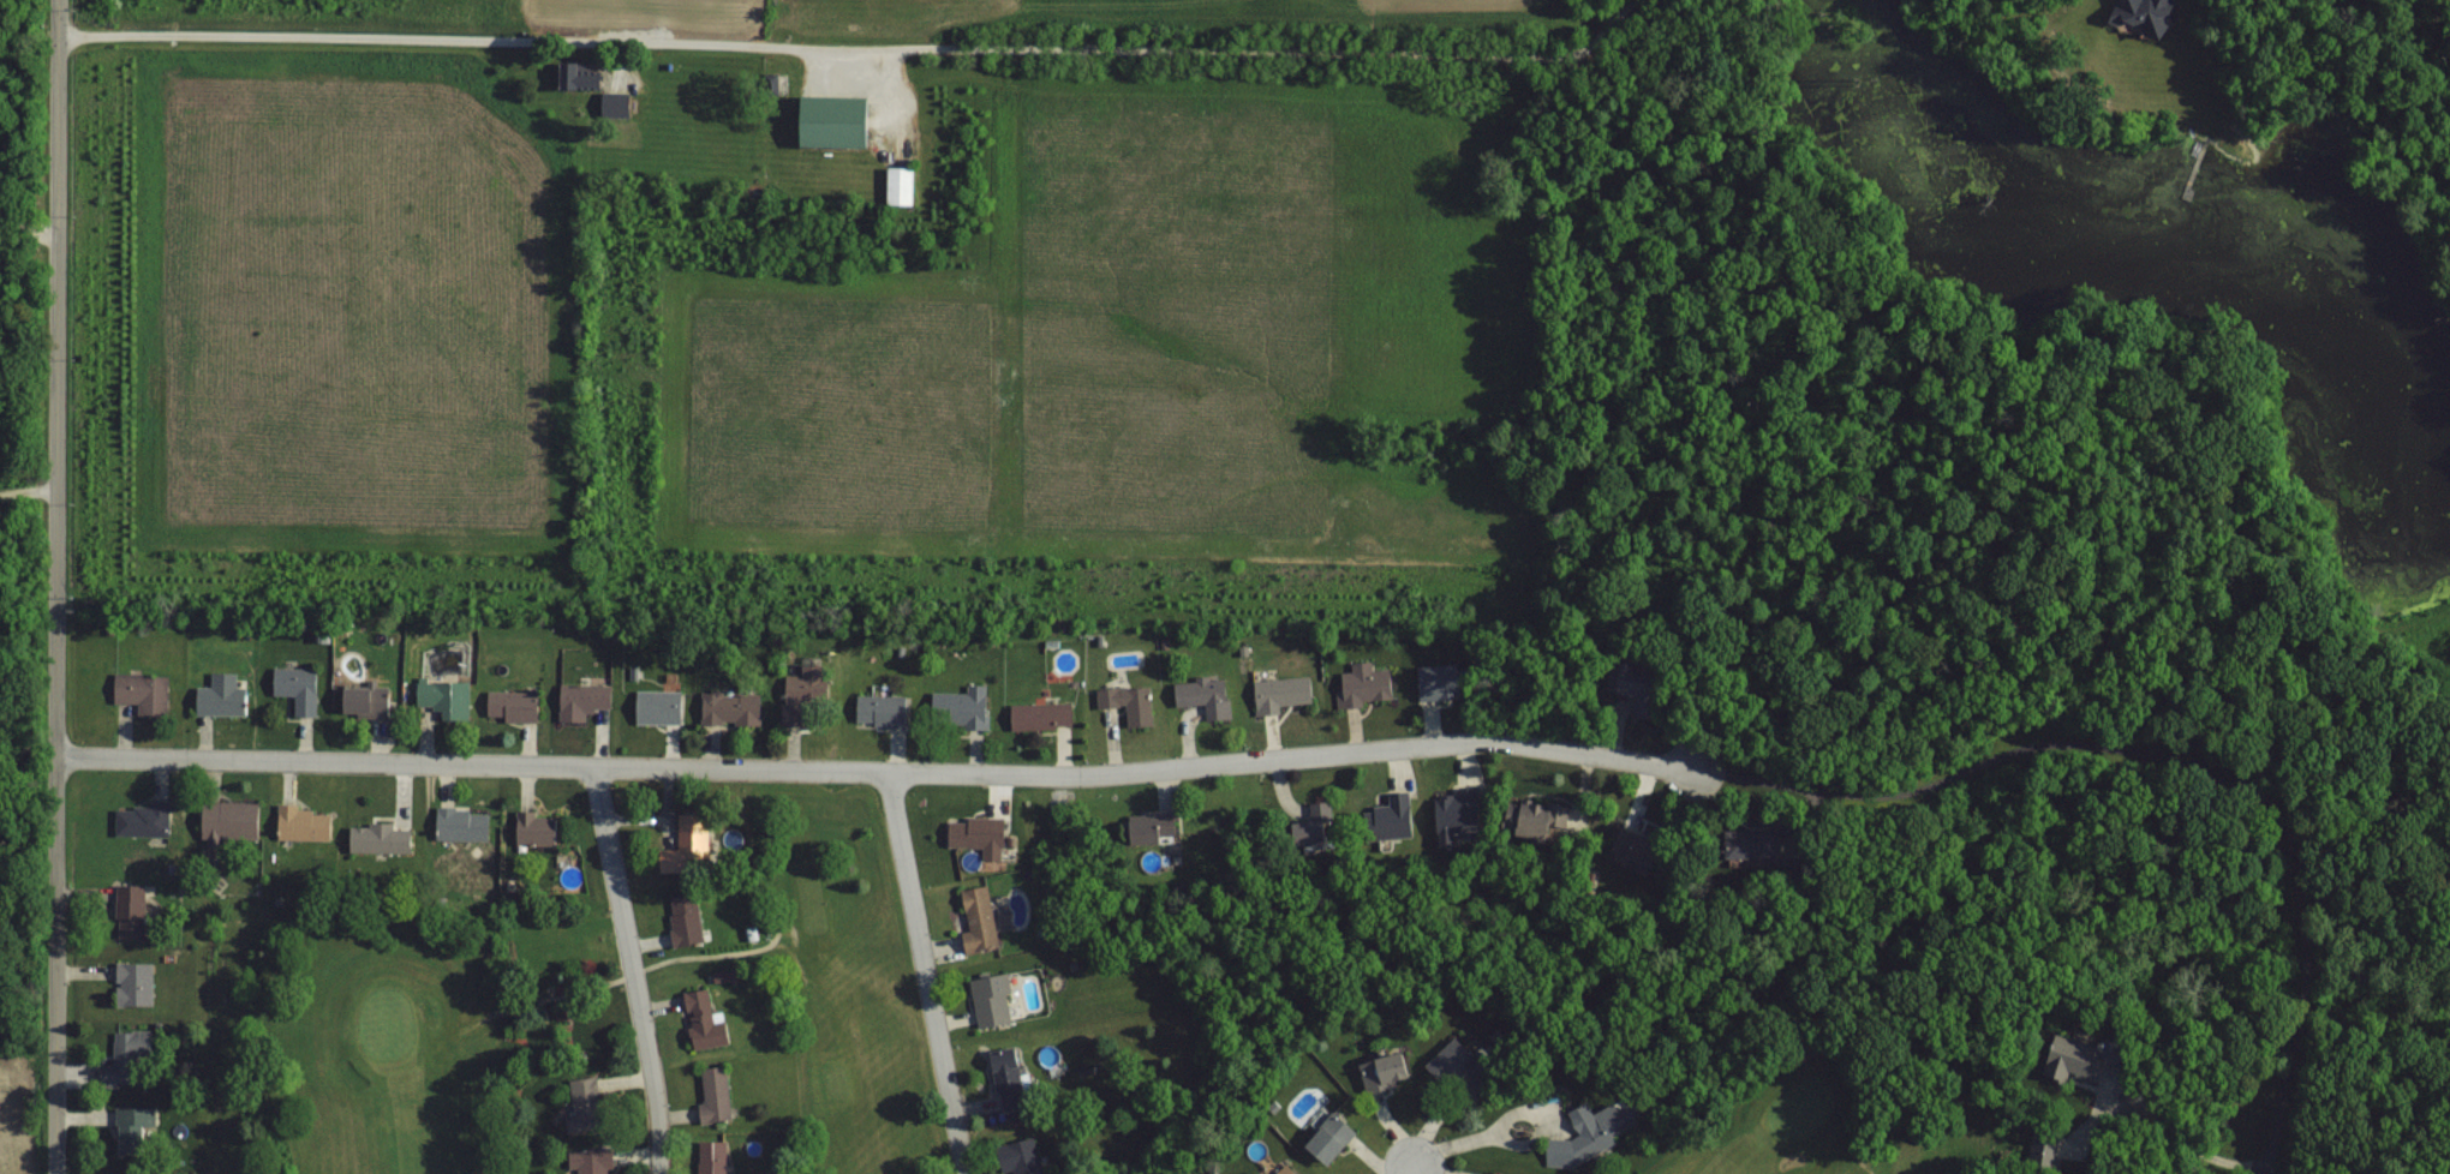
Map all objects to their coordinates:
road: (335, 36)
building: (575, 79)
building: (826, 133)
building: (895, 185)
road: (26, 228)
road: (29, 489)
road: (58, 586)
building: (1436, 681)
building: (1362, 682)
building: (294, 687)
building: (800, 690)
building: (139, 691)
building: (1278, 693)
building: (219, 695)
building: (1202, 695)
building: (361, 699)
building: (441, 700)
building: (579, 700)
building: (1129, 703)
building: (508, 705)
building: (656, 706)
building: (728, 707)
building: (957, 708)
building: (878, 711)
building: (1036, 714)
road: (2176, 751)
road: (877, 771)
building: (1397, 810)
building: (1460, 811)
building: (1529, 814)
building: (139, 819)
building: (225, 820)
building: (301, 822)
building: (459, 823)
building: (533, 827)
building: (974, 834)
building: (377, 838)
building: (681, 844)
building: (564, 868)
building: (129, 911)
building: (975, 918)
building: (682, 920)
building: (551, 947)
road: (631, 970)
road: (927, 972)
building: (131, 983)
building: (988, 999)
building: (700, 1020)
park: (821, 1025)
park: (355, 1040)
building: (122, 1058)
building: (1447, 1064)
building: (1384, 1072)
building: (1003, 1079)
building: (712, 1094)
building: (585, 1102)
building: (131, 1130)
road: (1483, 1136)
building: (1590, 1137)
park: (1827, 1137)
building: (1326, 1138)
road: (2189, 1143)
building: (710, 1156)
building: (1018, 1156)
building: (590, 1161)
road: (1409, 1168)
building: (1284, 1170)

